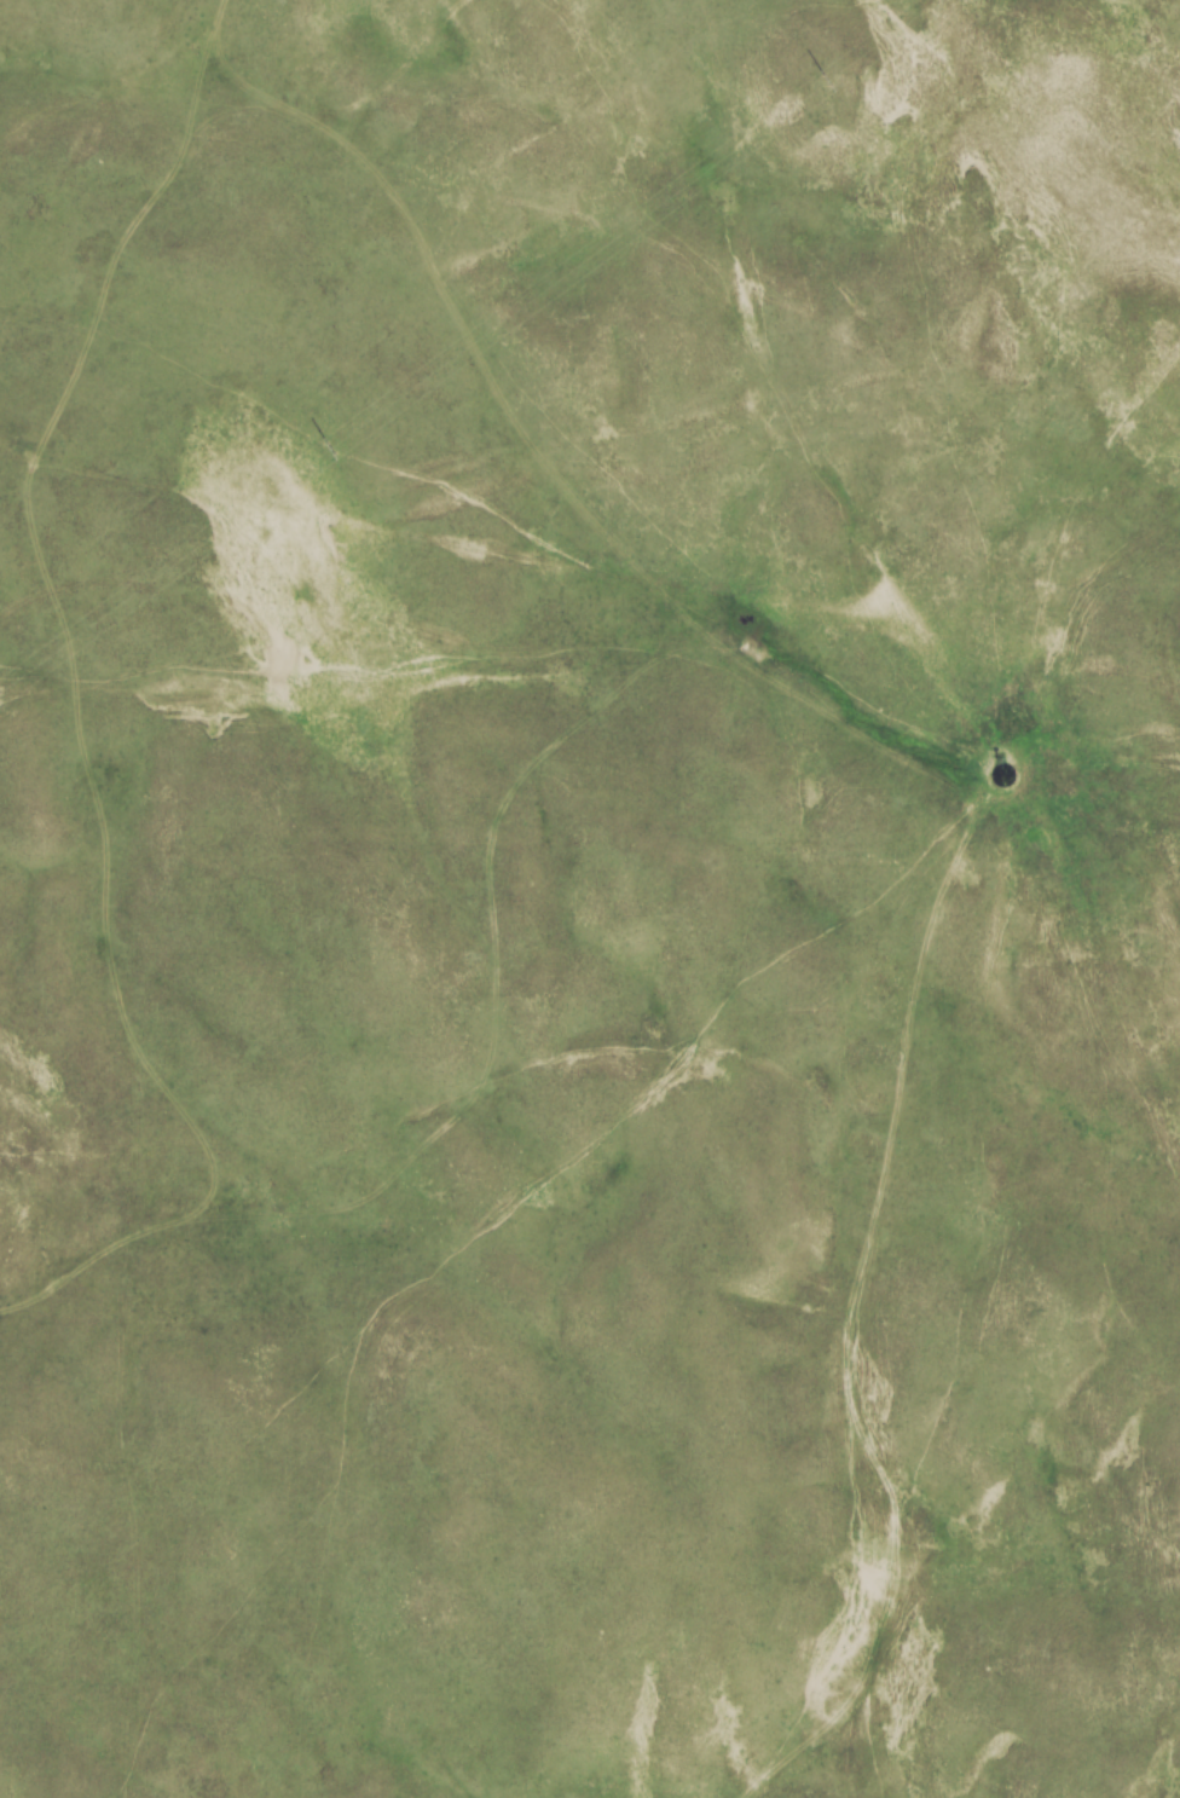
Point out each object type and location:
power tower: (833, 81)
power tower: (332, 447)

